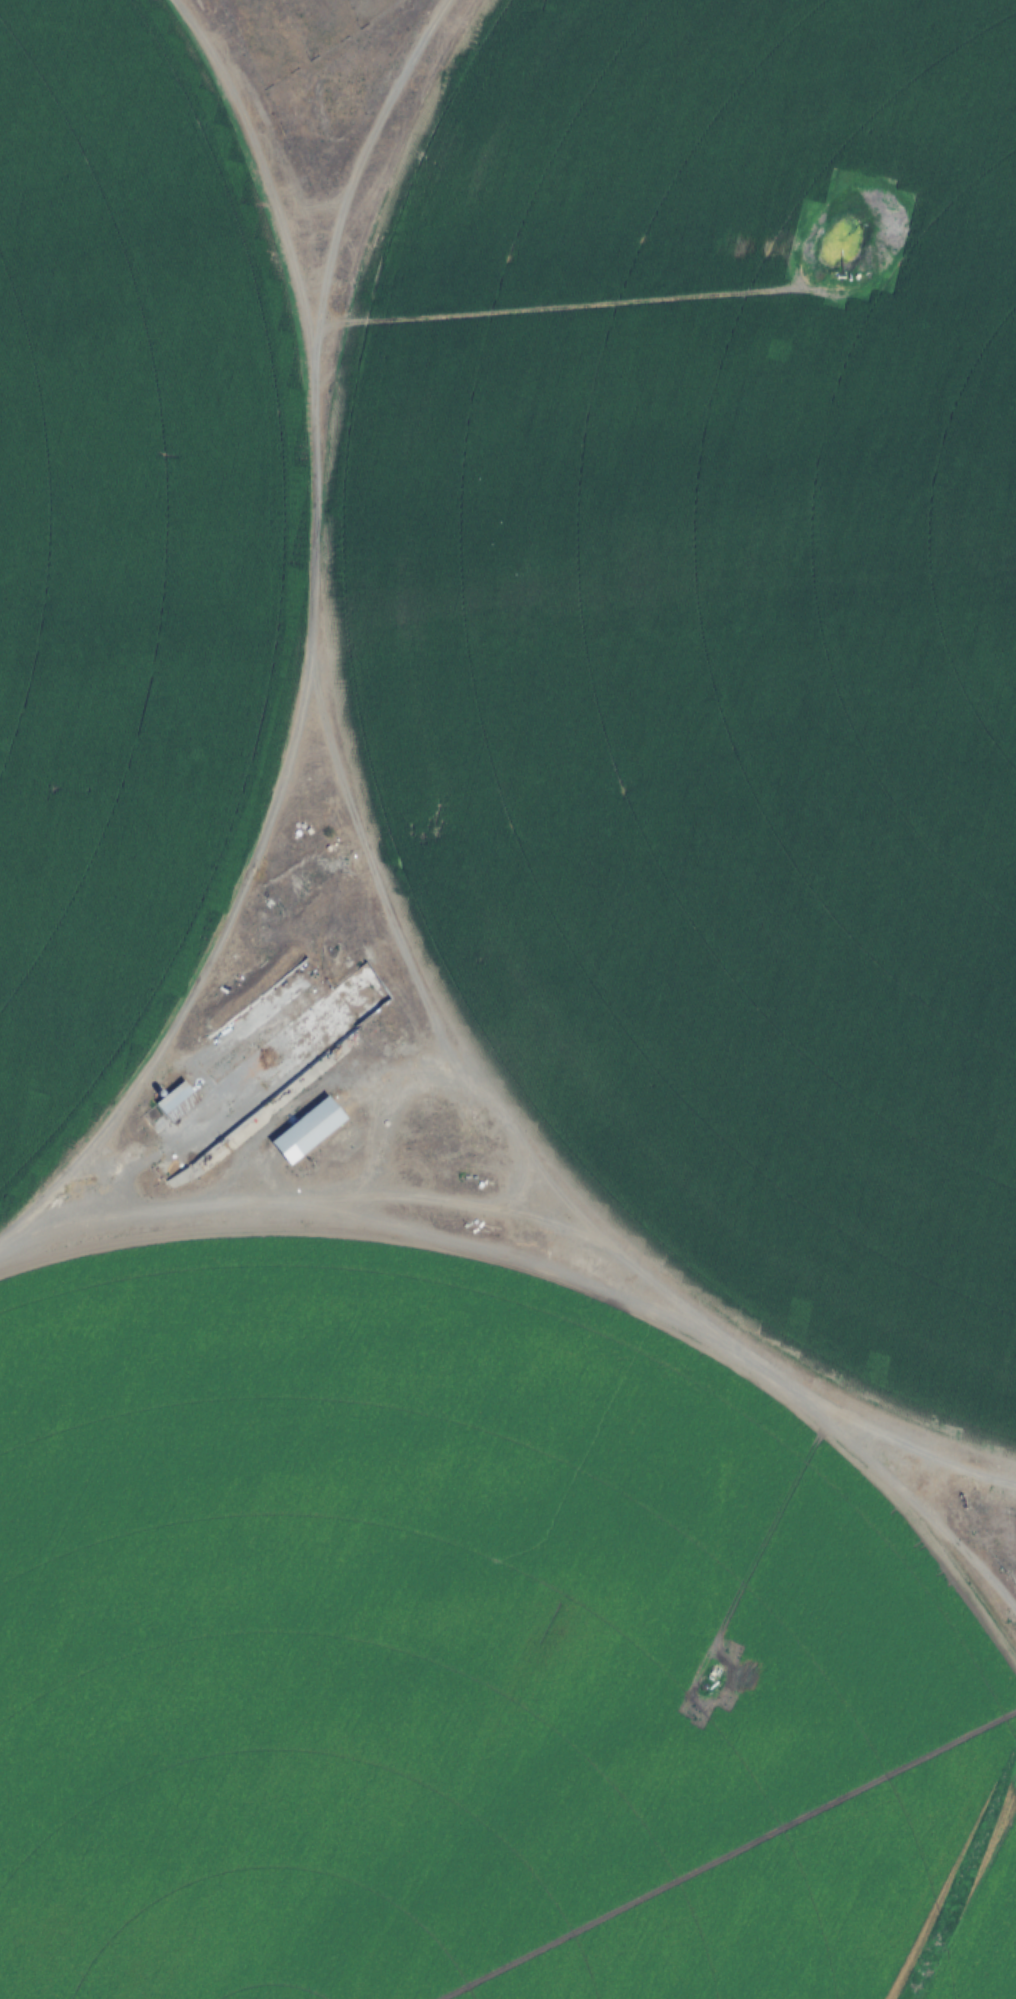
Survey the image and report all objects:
building: (225, 30)
building: (610, 463)
crop: (126, 549)
crop: (719, 634)
building: (173, 1101)
building: (308, 1130)
building: (455, 1156)
building: (785, 1158)

